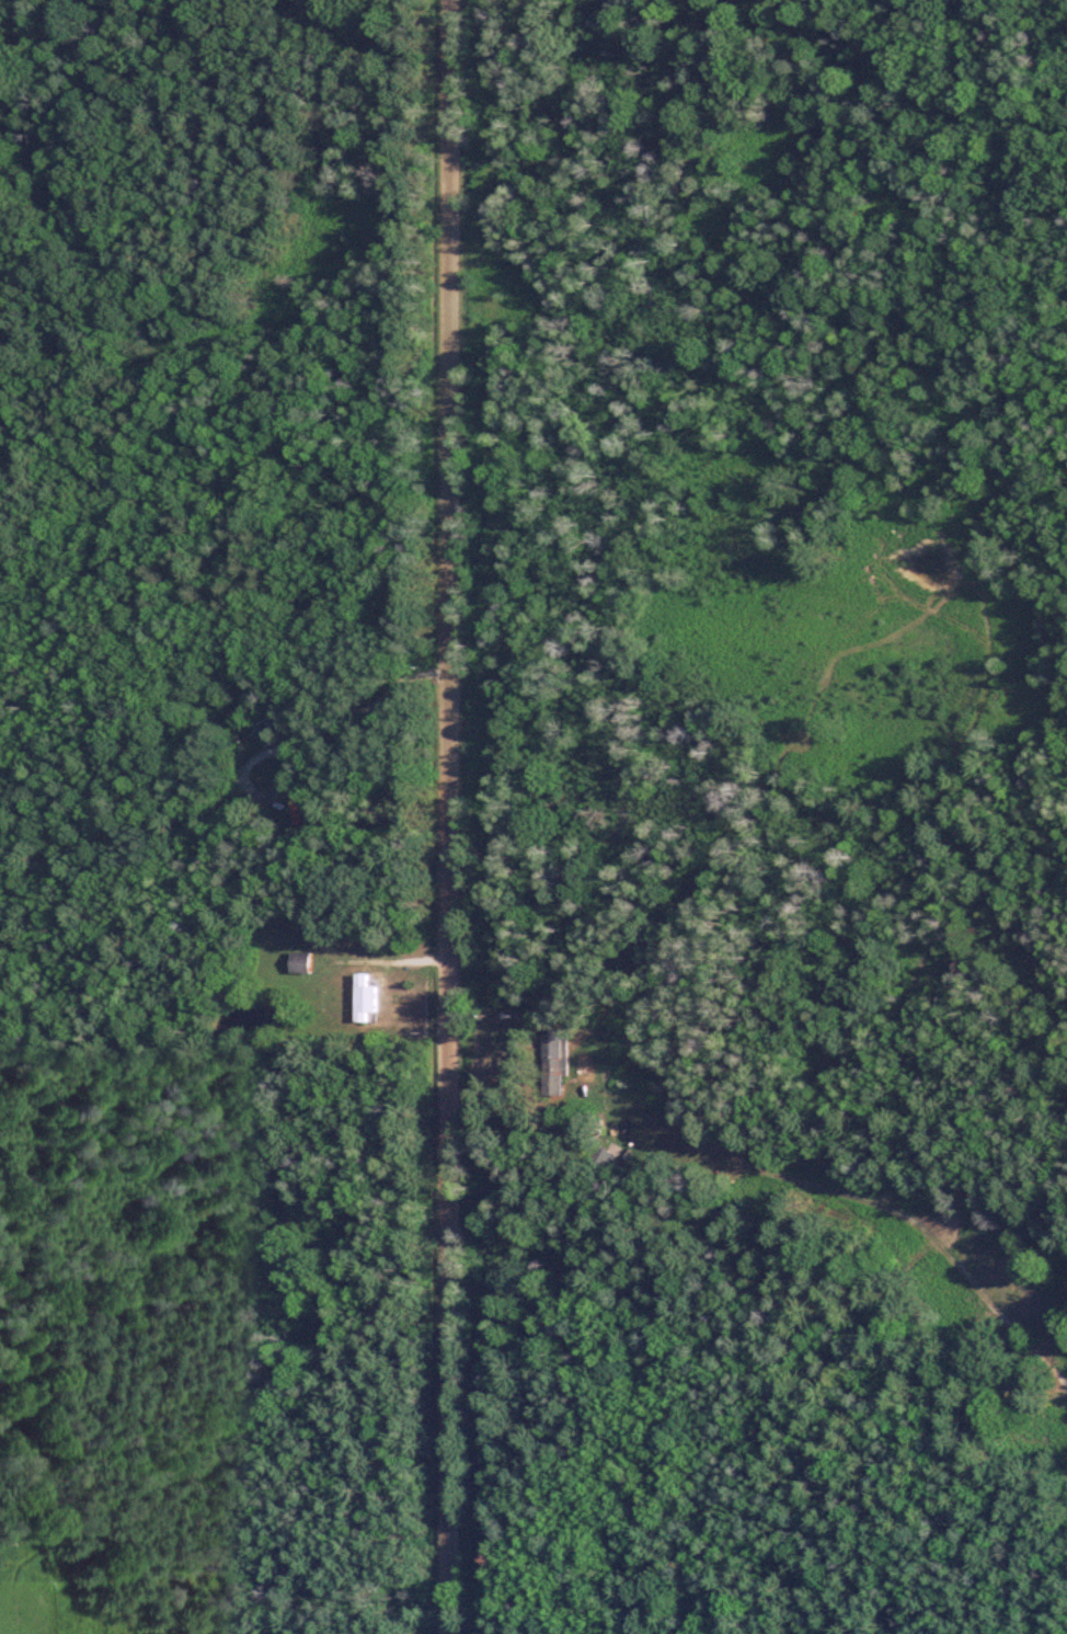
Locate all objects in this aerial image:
road: (452, 816)
building: (307, 961)
building: (371, 996)
building: (561, 1061)
building: (607, 1155)

